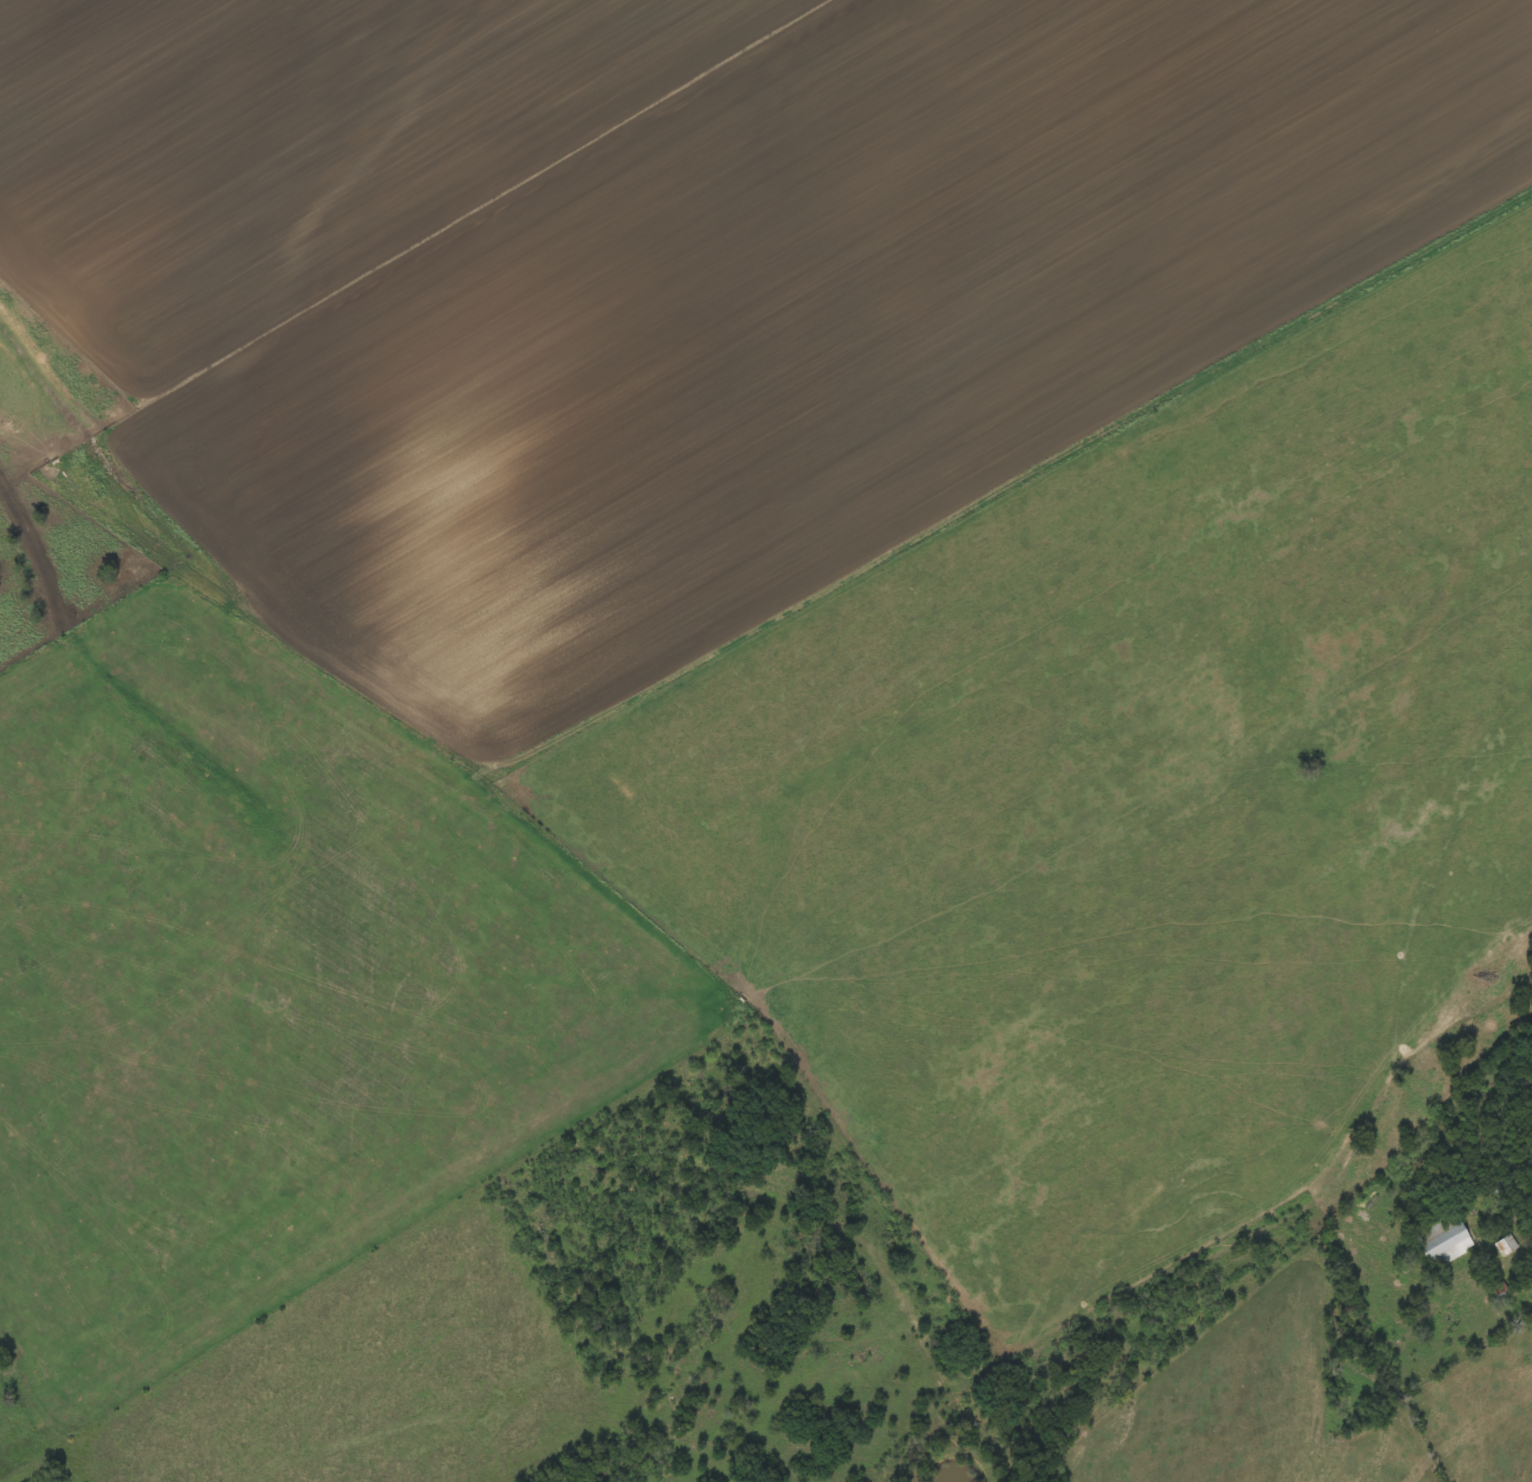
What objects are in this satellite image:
building: (1444, 1240)
building: (1507, 1245)

